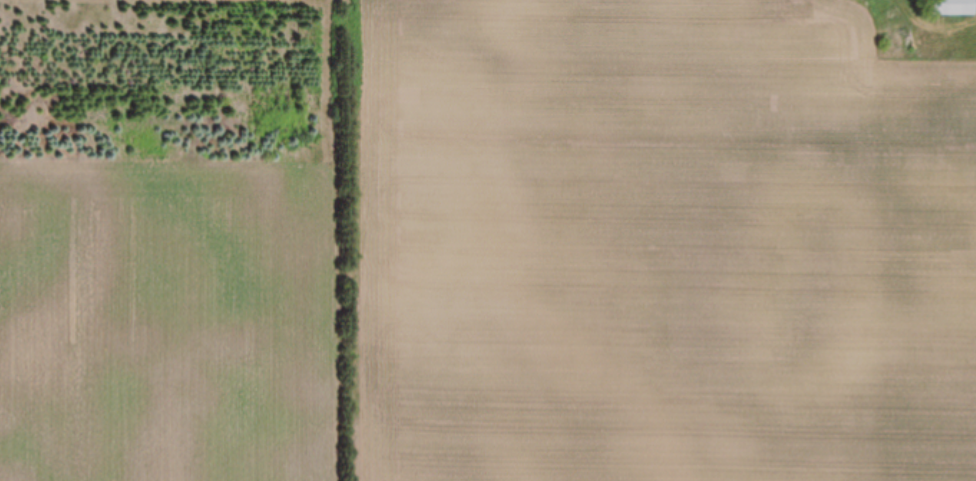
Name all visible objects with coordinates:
building: (954, 8)
road: (968, 29)

